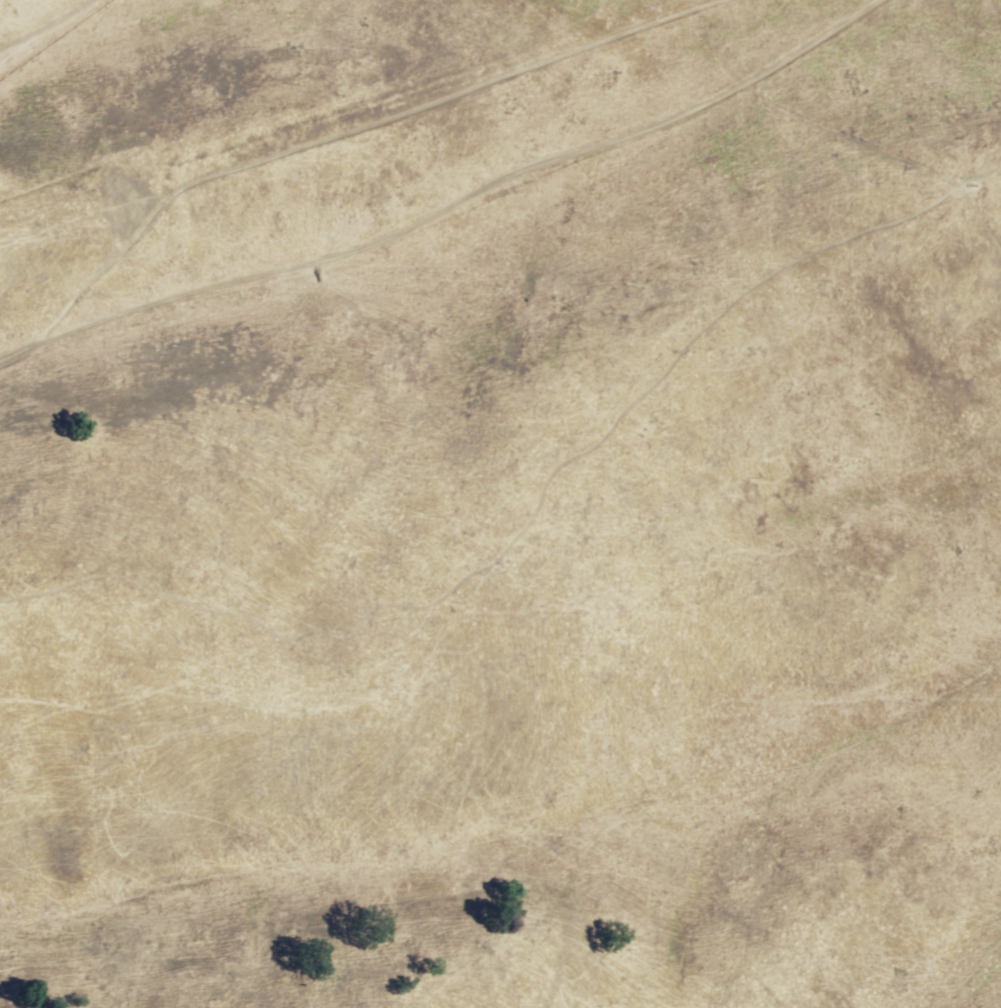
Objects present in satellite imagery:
road: (331, 139)

